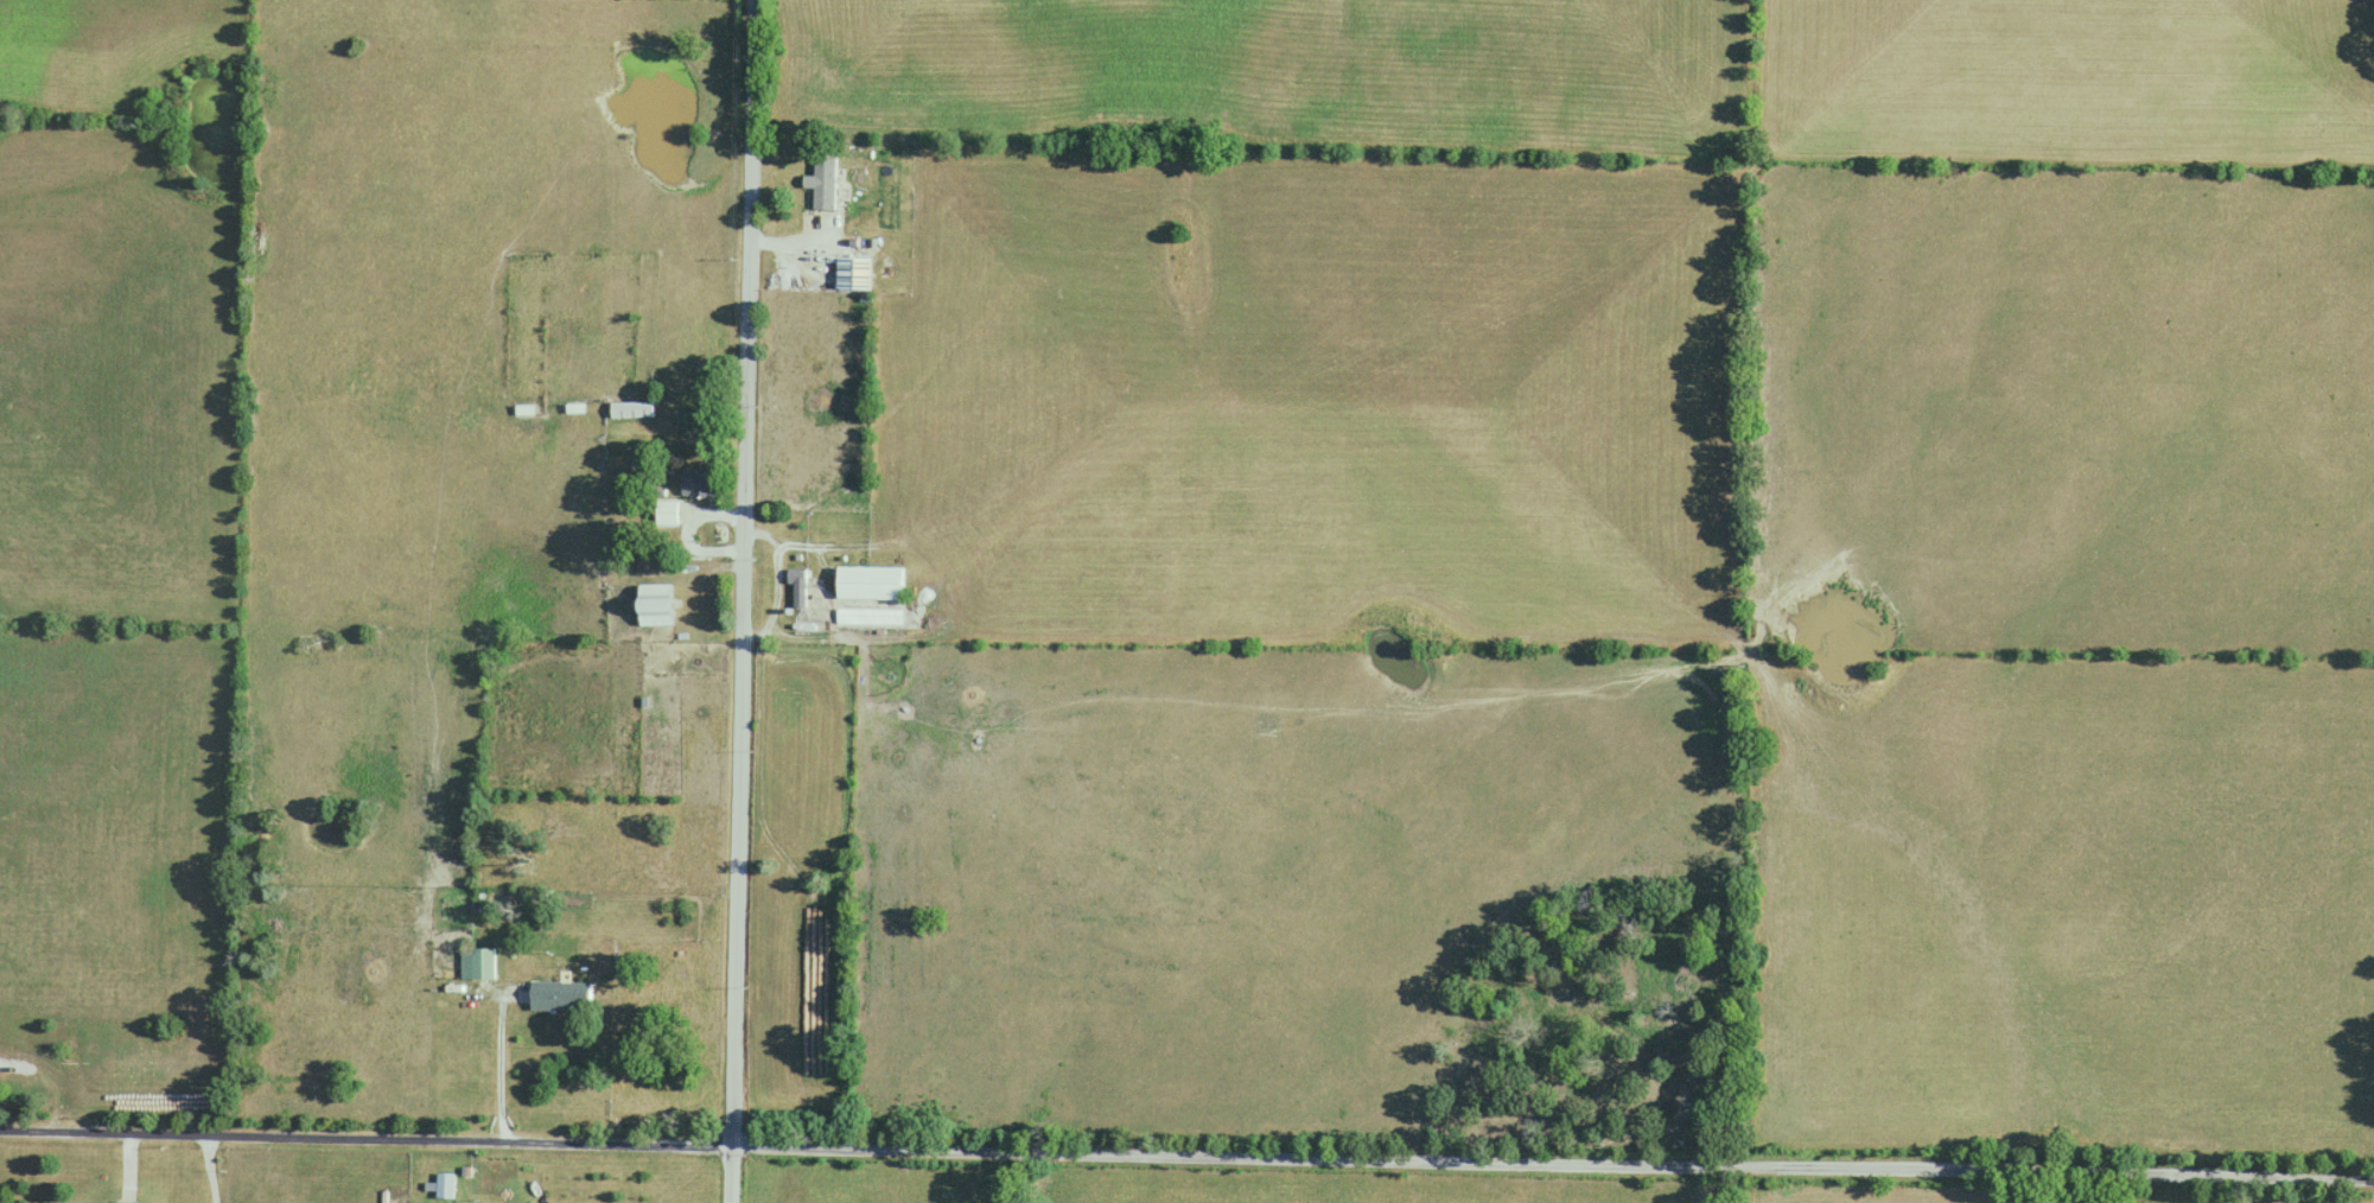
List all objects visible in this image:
building: (822, 185)
building: (632, 410)
building: (698, 485)
building: (870, 583)
building: (796, 588)
road: (750, 601)
building: (655, 605)
building: (868, 617)
building: (483, 965)
building: (560, 997)
road: (508, 1058)
road: (1186, 1160)
road: (210, 1170)
building: (445, 1185)
building: (125, 1202)

